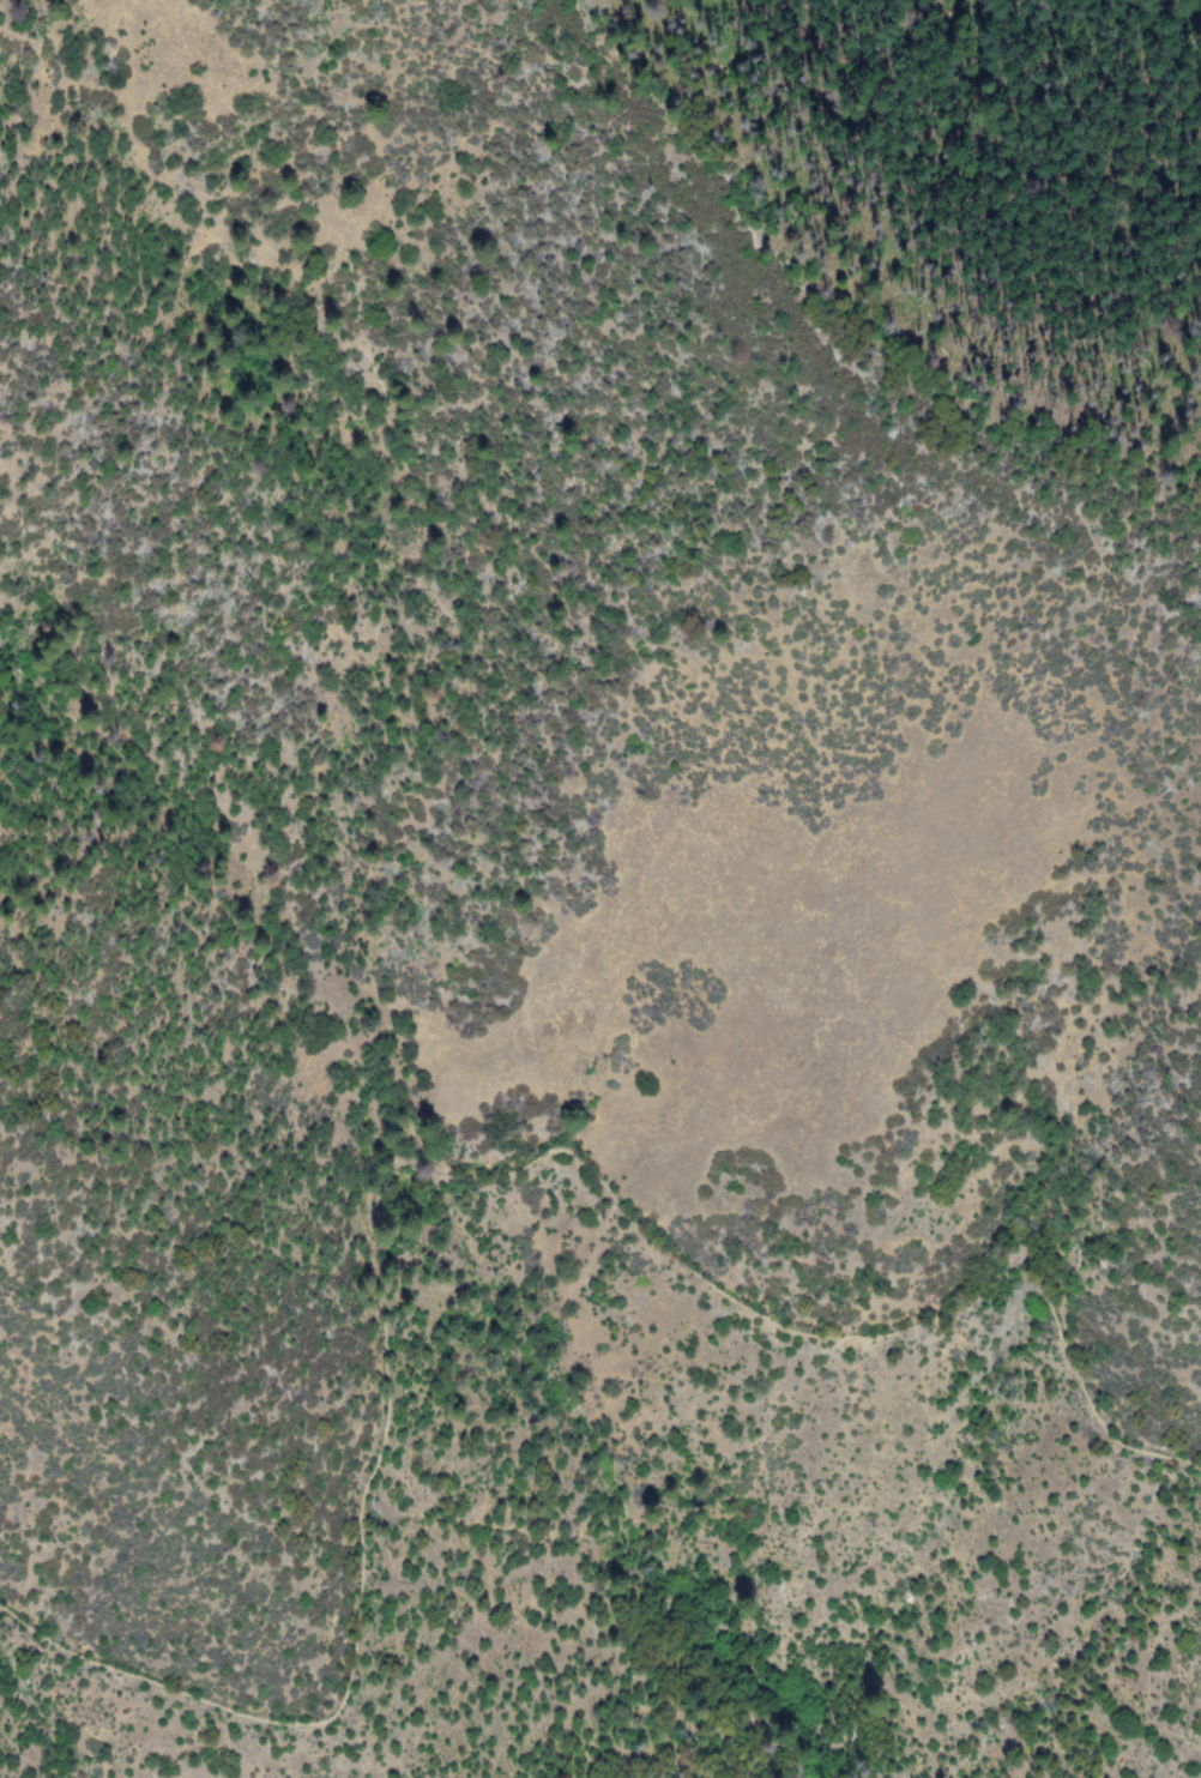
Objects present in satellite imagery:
road: (448, 1174)

